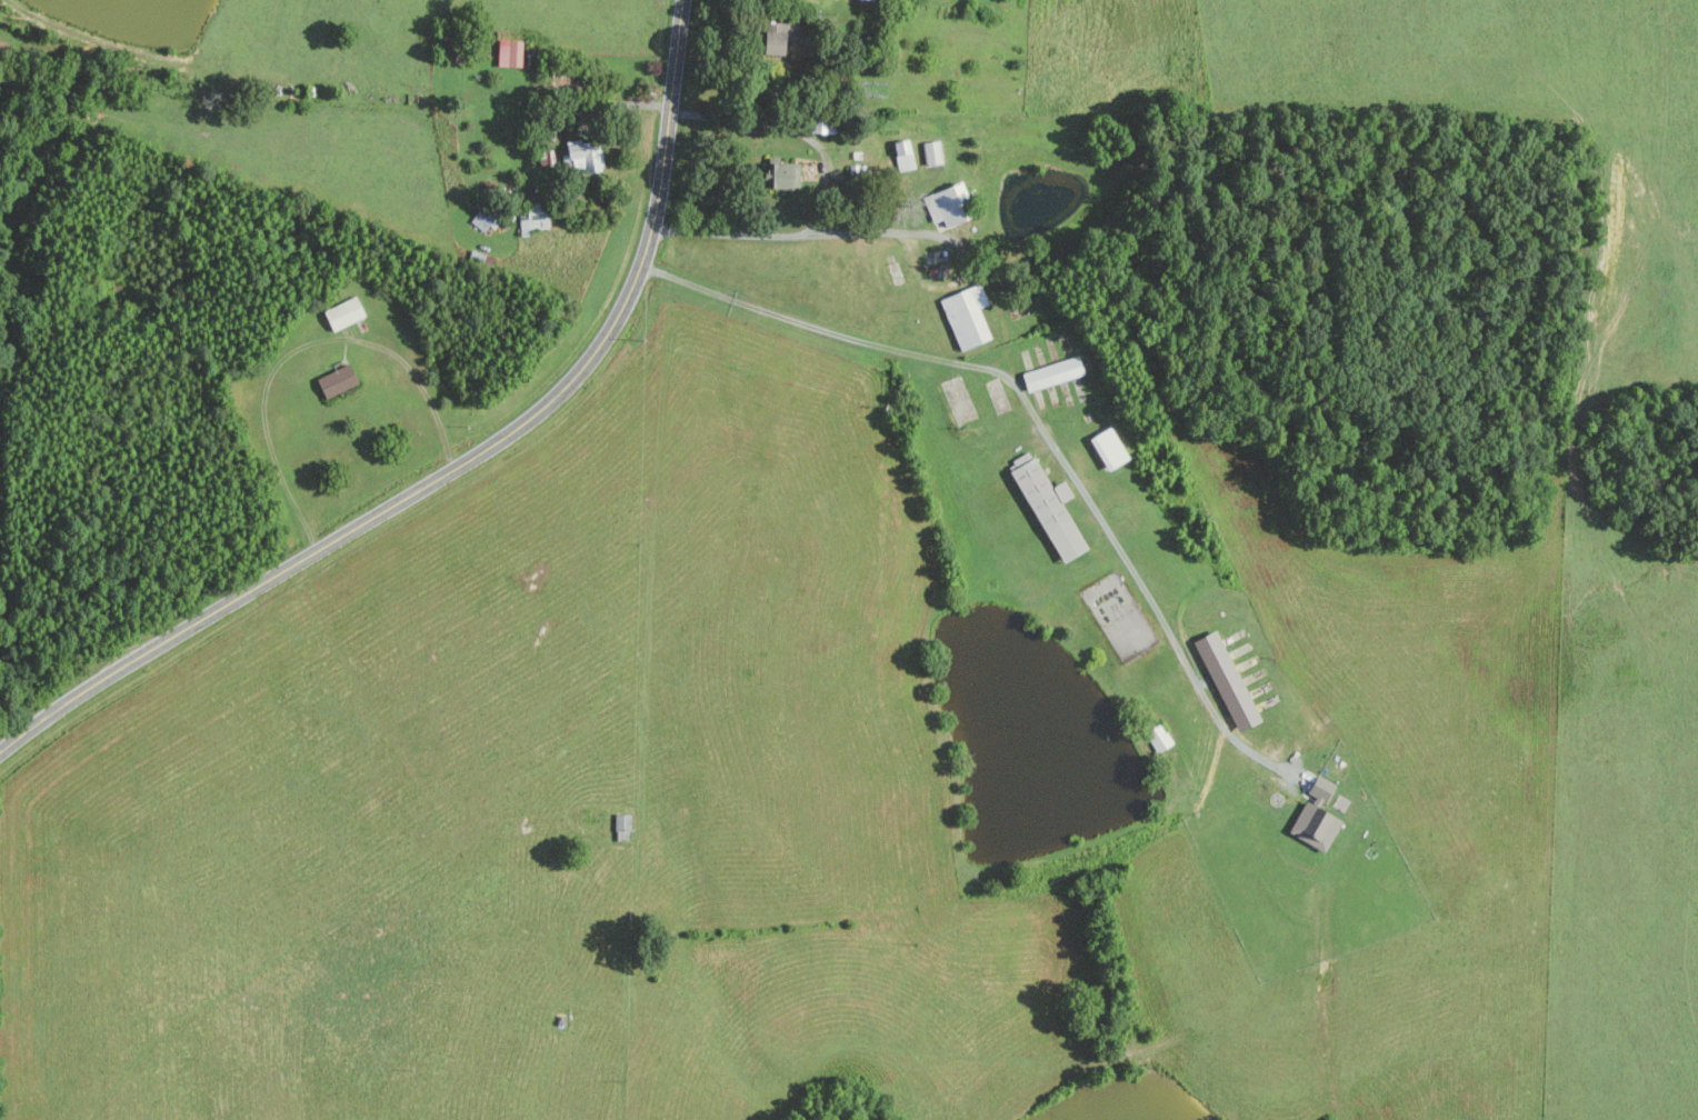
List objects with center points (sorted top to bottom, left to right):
building: (871, 0)
building: (776, 37)
building: (508, 52)
building: (931, 152)
building: (901, 154)
building: (782, 174)
road: (823, 191)
building: (945, 206)
building: (535, 216)
building: (482, 219)
road: (881, 231)
building: (342, 313)
building: (966, 317)
road: (302, 346)
building: (1050, 373)
building: (334, 381)
road: (1036, 419)
building: (1107, 449)
road: (460, 464)
building: (1047, 508)
building: (1158, 738)
building: (1315, 818)
building: (621, 827)

